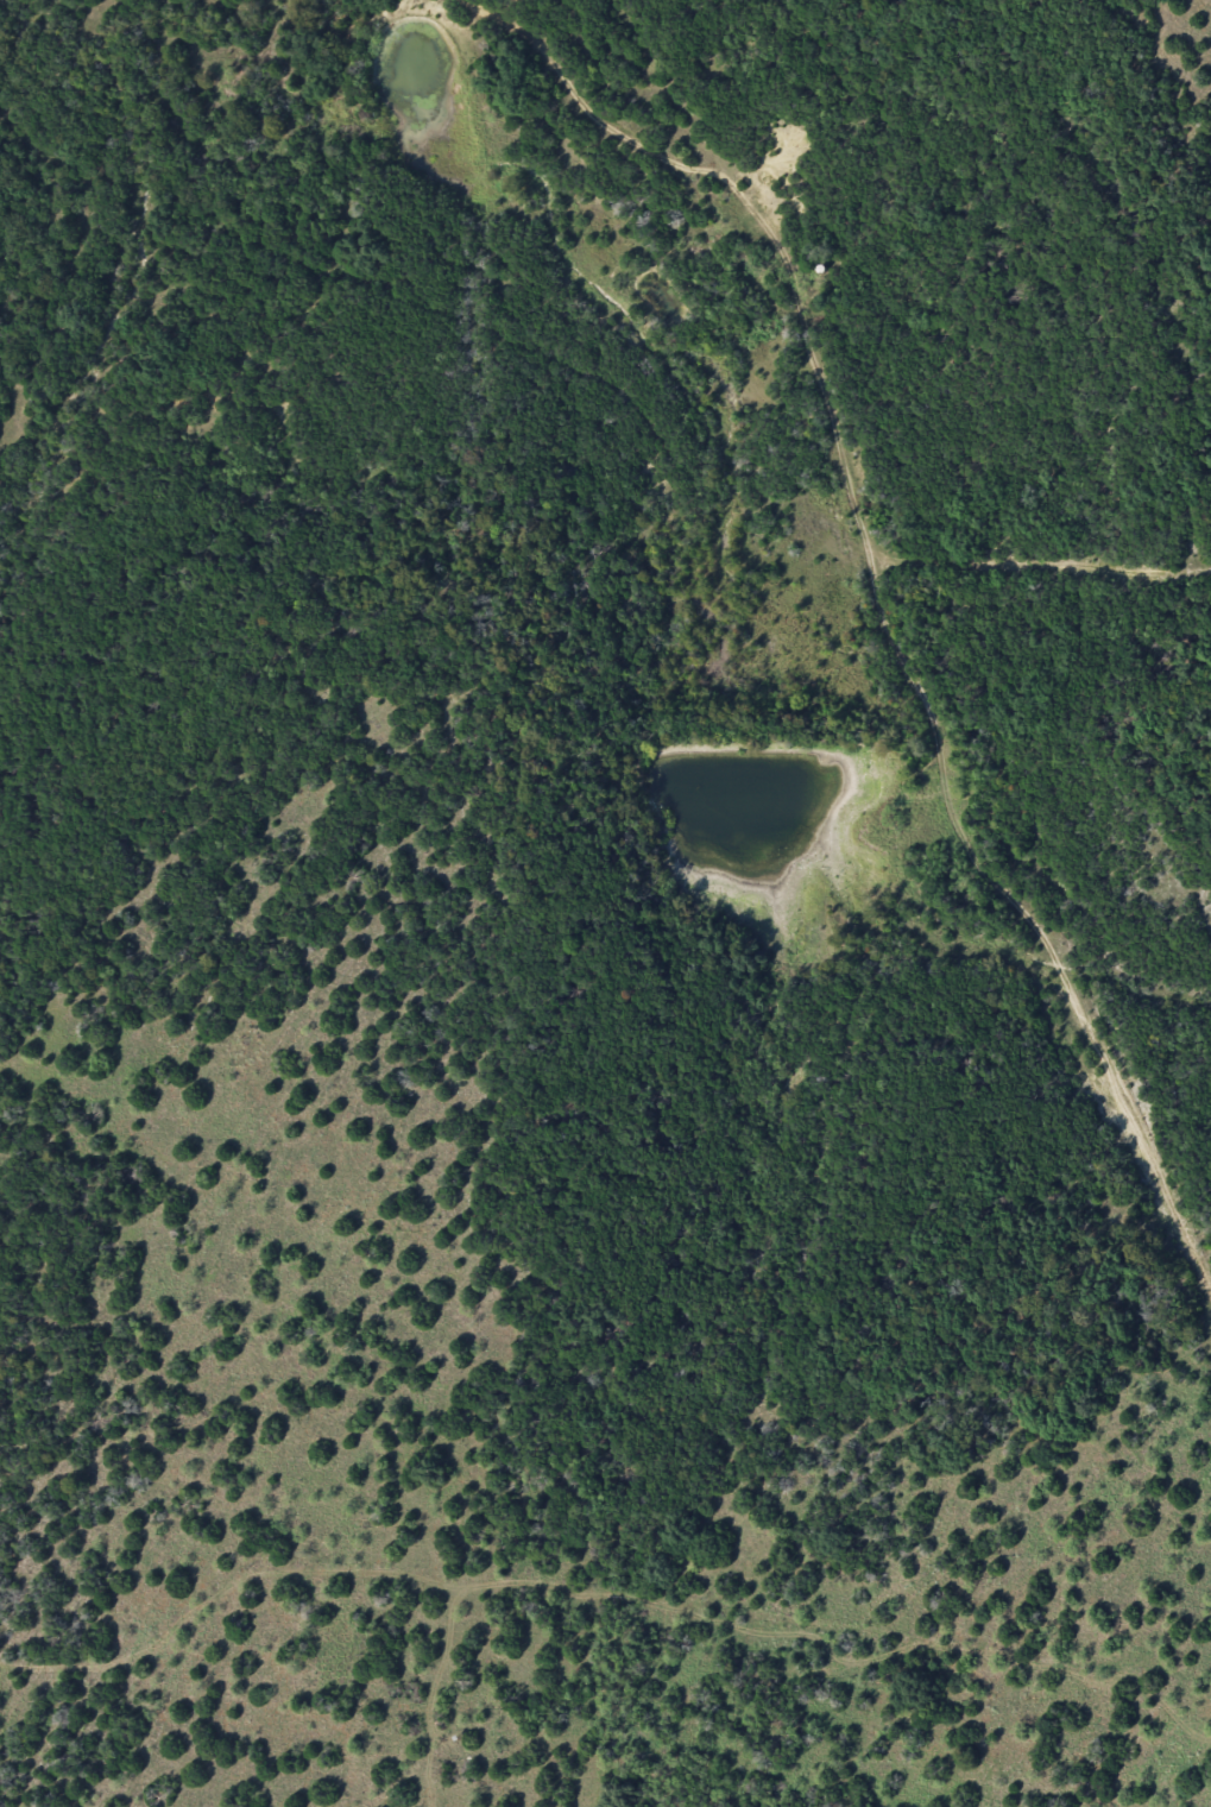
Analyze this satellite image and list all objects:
road: (875, 555)
road: (603, 1638)

